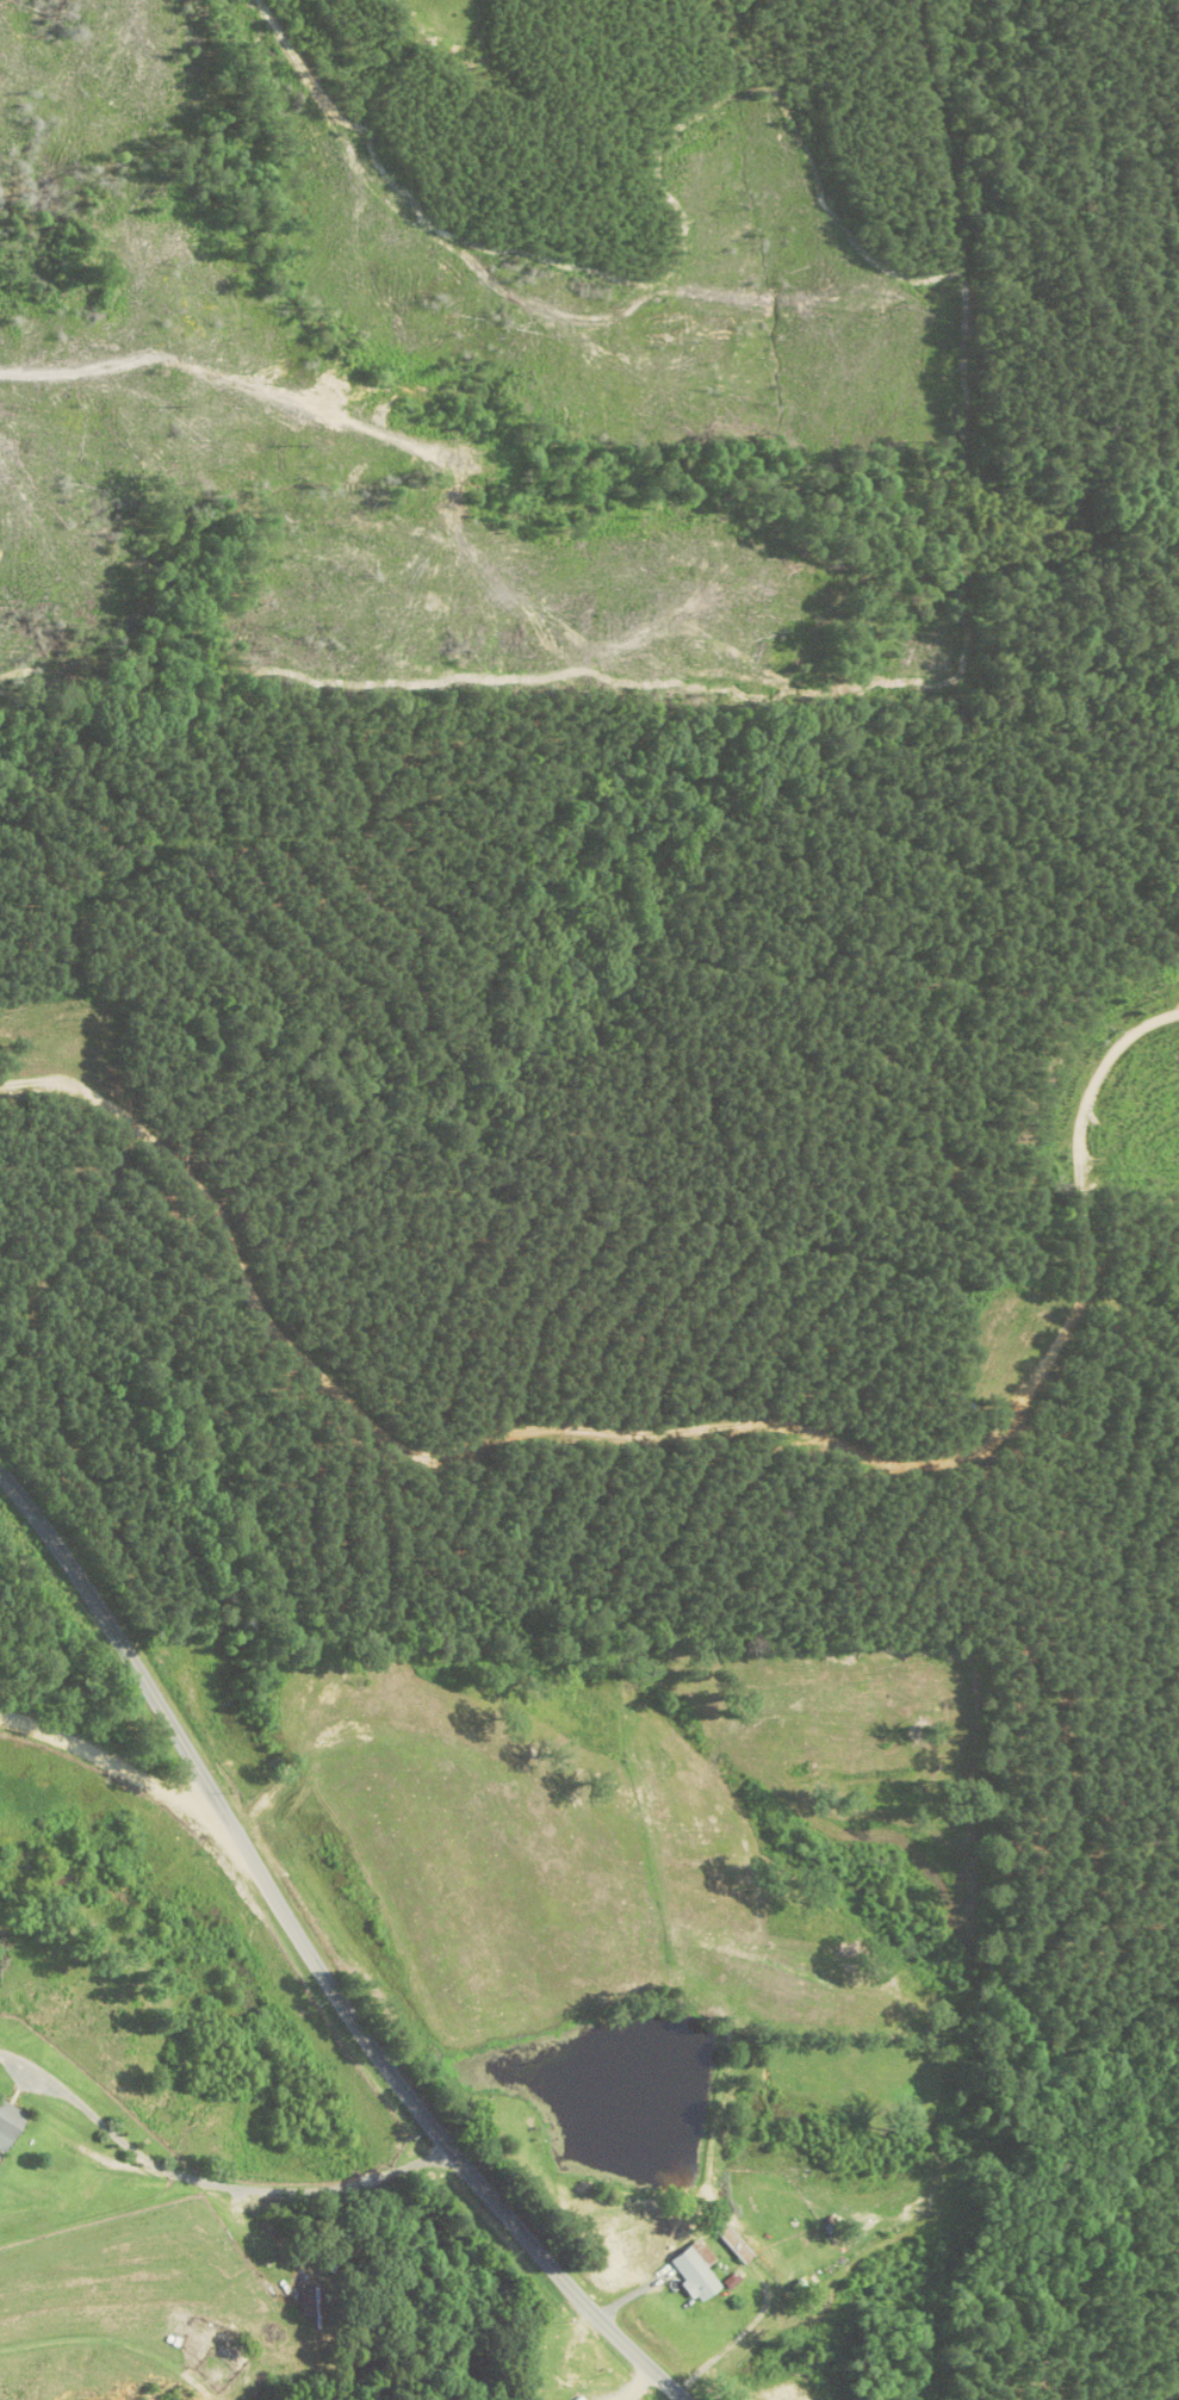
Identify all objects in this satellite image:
road: (113, 1761)
road: (314, 1960)
building: (10, 2125)
road: (210, 2182)
building: (737, 2244)
building: (697, 2271)

